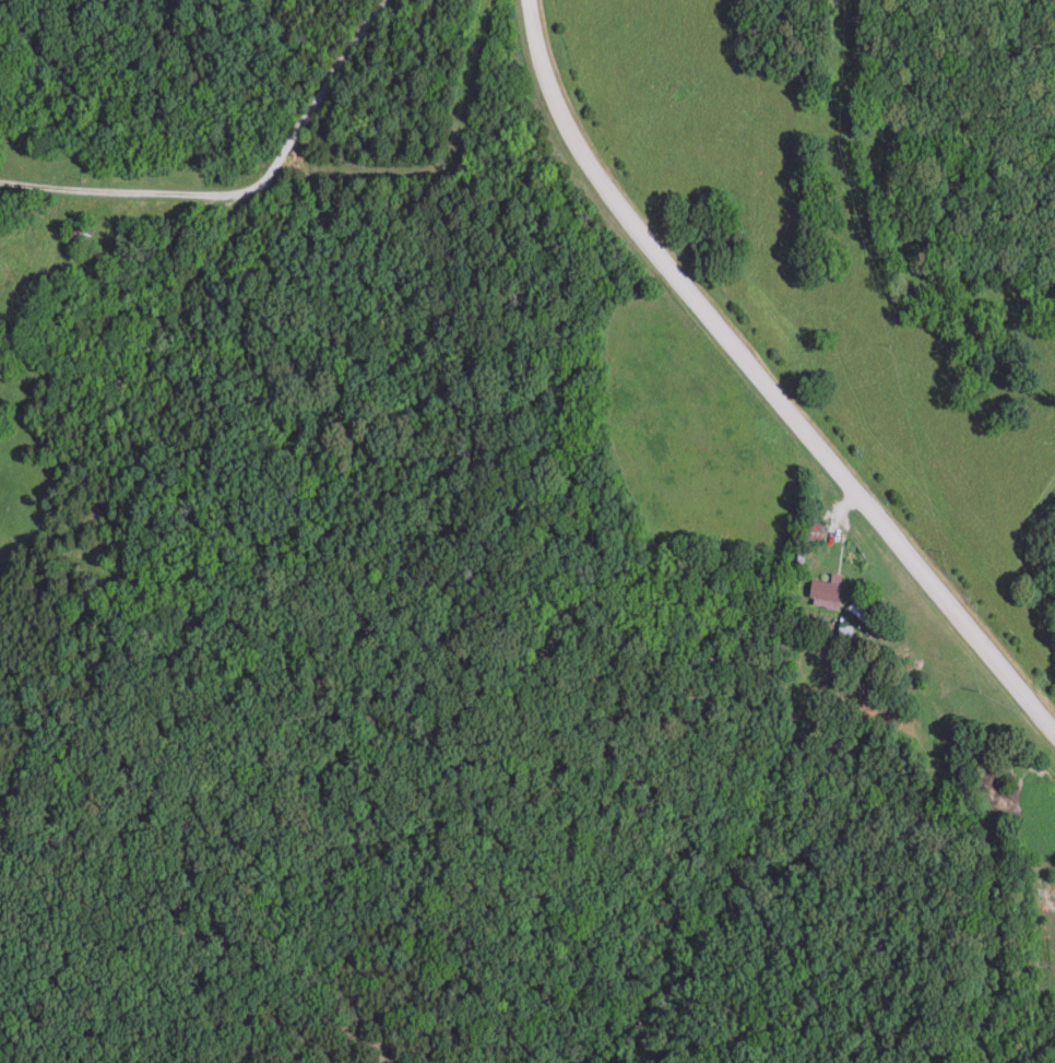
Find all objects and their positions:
road: (241, 192)
road: (762, 379)
building: (826, 591)

